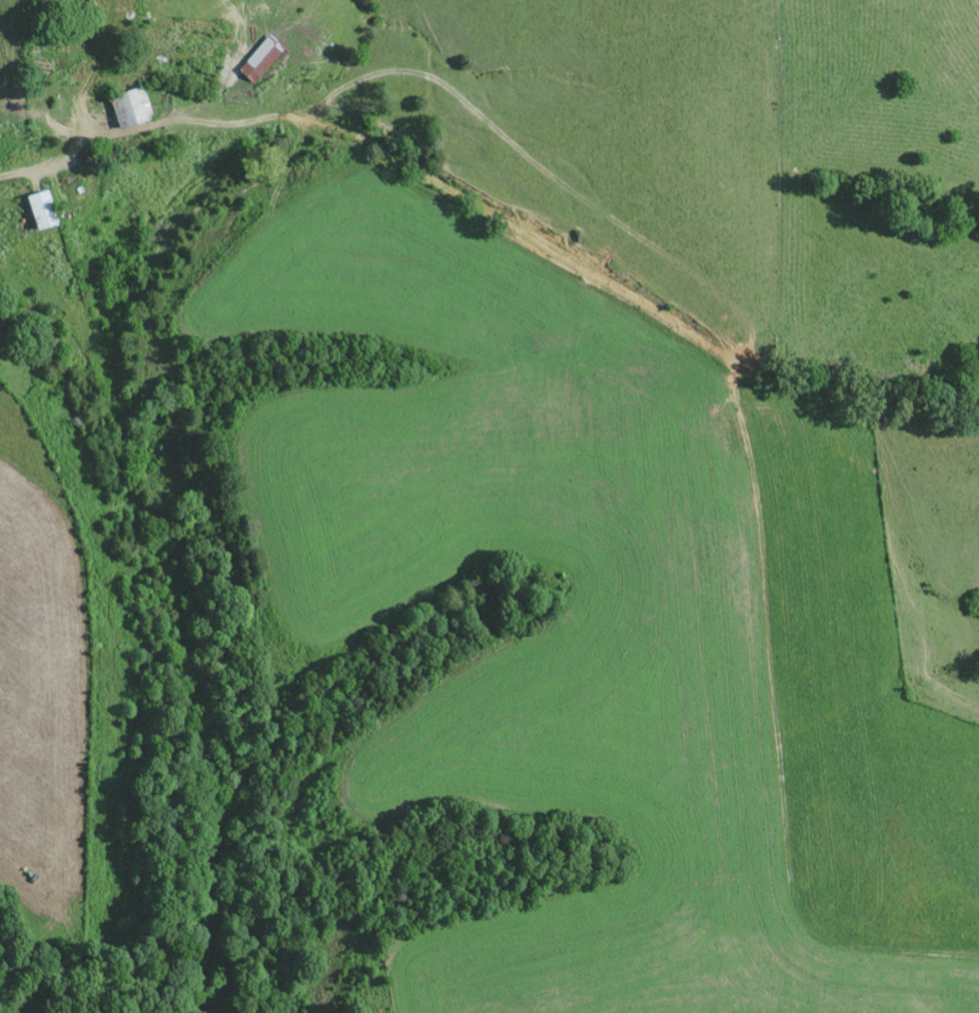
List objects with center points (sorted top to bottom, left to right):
building: (257, 63)
building: (129, 110)
road: (389, 151)
building: (40, 212)

